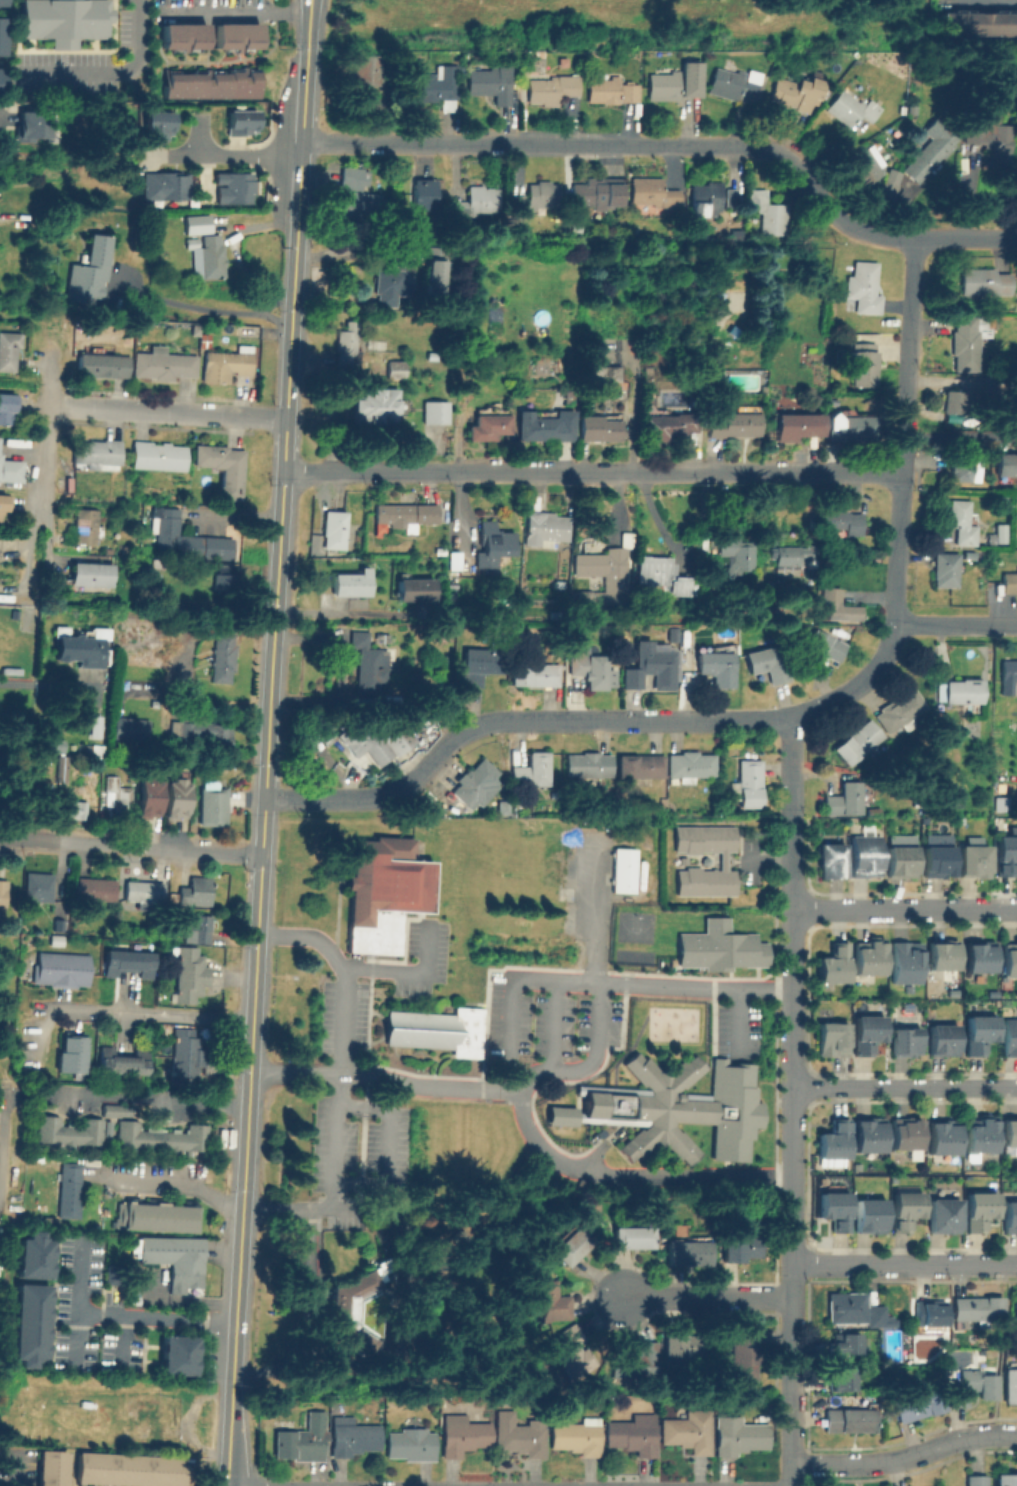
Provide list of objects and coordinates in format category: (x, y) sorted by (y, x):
road: (989, 2)
building: (2, 3)
road: (980, 4)
road: (235, 12)
building: (61, 18)
building: (976, 23)
building: (181, 35)
building: (235, 35)
building: (2, 38)
road: (306, 51)
building: (535, 51)
building: (369, 69)
road: (111, 70)
building: (732, 80)
building: (490, 82)
building: (2, 83)
building: (210, 83)
building: (436, 84)
building: (671, 85)
building: (552, 87)
building: (611, 89)
building: (795, 91)
building: (360, 101)
building: (850, 107)
building: (911, 109)
road: (1, 122)
building: (243, 124)
building: (33, 126)
building: (159, 127)
building: (990, 135)
road: (677, 145)
building: (931, 148)
road: (238, 155)
road: (300, 156)
building: (866, 164)
building: (351, 175)
building: (1016, 177)
building: (889, 183)
building: (165, 188)
building: (233, 190)
building: (598, 191)
building: (649, 192)
building: (423, 193)
building: (543, 193)
building: (707, 196)
building: (731, 196)
building: (358, 199)
building: (475, 202)
building: (517, 203)
building: (769, 212)
building: (577, 224)
road: (355, 250)
building: (211, 254)
building: (97, 255)
building: (431, 273)
building: (983, 280)
building: (389, 285)
building: (864, 286)
road: (189, 303)
road: (258, 306)
building: (194, 329)
building: (868, 334)
building: (204, 338)
building: (969, 339)
building: (347, 345)
building: (7, 349)
building: (432, 353)
building: (227, 362)
building: (862, 362)
building: (163, 363)
building: (102, 364)
building: (395, 368)
building: (605, 372)
building: (568, 398)
building: (954, 399)
building: (373, 405)
building: (9, 407)
building: (434, 409)
road: (164, 411)
building: (735, 421)
building: (666, 425)
building: (796, 425)
building: (488, 426)
building: (543, 427)
building: (600, 427)
building: (851, 427)
road: (905, 434)
road: (961, 437)
building: (96, 449)
building: (941, 450)
building: (157, 455)
building: (0, 461)
building: (1006, 465)
building: (223, 466)
building: (961, 468)
road: (592, 472)
road: (38, 474)
building: (6, 504)
building: (570, 507)
building: (406, 514)
building: (961, 519)
building: (843, 521)
building: (86, 525)
building: (546, 526)
building: (335, 527)
building: (997, 532)
building: (188, 535)
building: (493, 542)
building: (127, 549)
building: (109, 551)
building: (738, 554)
building: (969, 555)
building: (792, 558)
building: (947, 568)
building: (93, 574)
building: (660, 574)
building: (225, 580)
building: (614, 581)
building: (1010, 581)
building: (352, 584)
building: (413, 589)
building: (839, 604)
road: (342, 613)
road: (956, 625)
building: (440, 631)
building: (382, 636)
building: (77, 646)
building: (823, 647)
building: (223, 657)
building: (368, 663)
building: (767, 663)
building: (479, 664)
building: (588, 666)
building: (717, 666)
building: (649, 667)
building: (535, 673)
building: (1008, 675)
road: (10, 687)
building: (964, 690)
building: (900, 711)
road: (590, 719)
building: (126, 729)
building: (201, 732)
building: (375, 739)
building: (858, 741)
building: (51, 745)
building: (588, 764)
building: (640, 765)
building: (690, 765)
building: (61, 768)
building: (532, 770)
road: (791, 771)
building: (474, 781)
building: (750, 783)
building: (117, 794)
building: (174, 794)
building: (145, 797)
building: (845, 797)
building: (212, 806)
building: (76, 810)
building: (872, 812)
building: (898, 839)
road: (130, 847)
road: (261, 847)
building: (1005, 857)
building: (863, 858)
building: (938, 858)
building: (723, 859)
building: (829, 863)
building: (973, 863)
building: (899, 864)
road: (569, 870)
building: (622, 872)
building: (38, 886)
building: (95, 889)
building: (144, 891)
building: (196, 891)
building: (3, 892)
building: (382, 892)
building: (173, 896)
building: (60, 906)
road: (904, 906)
park: (632, 927)
building: (197, 928)
building: (56, 939)
building: (718, 946)
building: (374, 954)
building: (941, 958)
building: (867, 959)
building: (979, 960)
building: (113, 962)
building: (1009, 962)
building: (139, 963)
building: (905, 964)
building: (832, 967)
building: (46, 968)
building: (73, 970)
building: (190, 974)
road: (693, 986)
road: (508, 994)
building: (951, 994)
building: (991, 995)
road: (152, 1015)
road: (736, 1022)
road: (553, 1024)
building: (434, 1029)
building: (866, 1036)
building: (978, 1036)
building: (1009, 1039)
building: (830, 1040)
building: (942, 1042)
building: (904, 1044)
building: (186, 1052)
building: (71, 1053)
building: (122, 1061)
road: (905, 1092)
road: (152, 1099)
road: (537, 1100)
road: (1, 1107)
building: (675, 1107)
road: (792, 1109)
building: (114, 1110)
building: (70, 1132)
building: (905, 1136)
building: (980, 1136)
building: (1009, 1136)
building: (160, 1137)
building: (868, 1137)
road: (334, 1139)
building: (942, 1139)
building: (833, 1144)
building: (857, 1167)
road: (175, 1179)
building: (67, 1190)
building: (906, 1209)
building: (833, 1210)
building: (979, 1210)
building: (1011, 1214)
building: (869, 1215)
building: (944, 1215)
building: (153, 1217)
building: (631, 1236)
building: (571, 1244)
building: (740, 1246)
building: (687, 1252)
building: (33, 1255)
road: (428, 1255)
building: (174, 1257)
road: (904, 1263)
road: (704, 1297)
building: (546, 1302)
building: (352, 1307)
building: (1015, 1307)
building: (976, 1308)
building: (855, 1309)
building: (929, 1310)
road: (119, 1313)
road: (306, 1314)
building: (30, 1324)
building: (685, 1344)
building: (843, 1347)
building: (571, 1348)
road: (1004, 1351)
building: (744, 1352)
building: (175, 1355)
road: (403, 1355)
building: (634, 1361)
building: (842, 1378)
building: (1010, 1385)
building: (973, 1387)
building: (918, 1403)
building: (142, 1416)
building: (849, 1419)
building: (689, 1431)
building: (463, 1434)
building: (634, 1434)
building: (520, 1435)
building: (739, 1435)
building: (353, 1436)
building: (577, 1436)
building: (71, 1439)
road: (790, 1440)
building: (299, 1444)
building: (412, 1444)
road: (904, 1457)
building: (52, 1468)
building: (128, 1469)
road: (14, 1471)
building: (977, 1480)
building: (1006, 1480)

